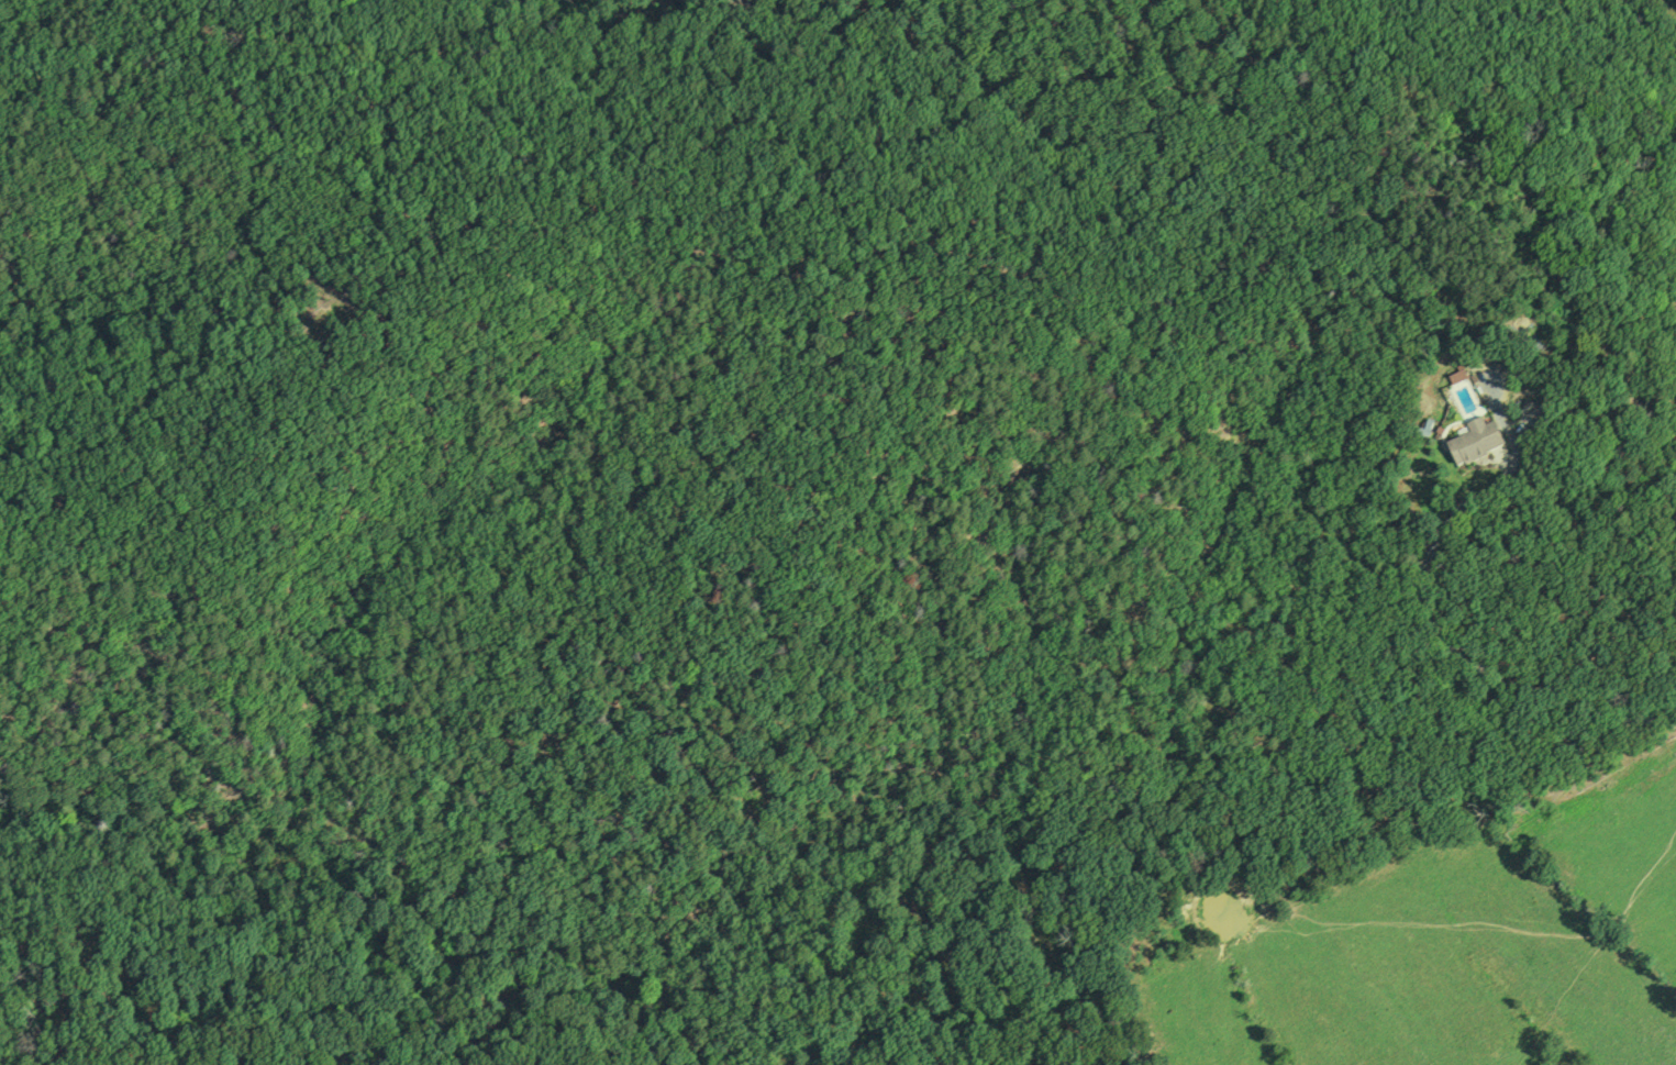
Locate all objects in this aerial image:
building: (1532, 411)
building: (1477, 442)

